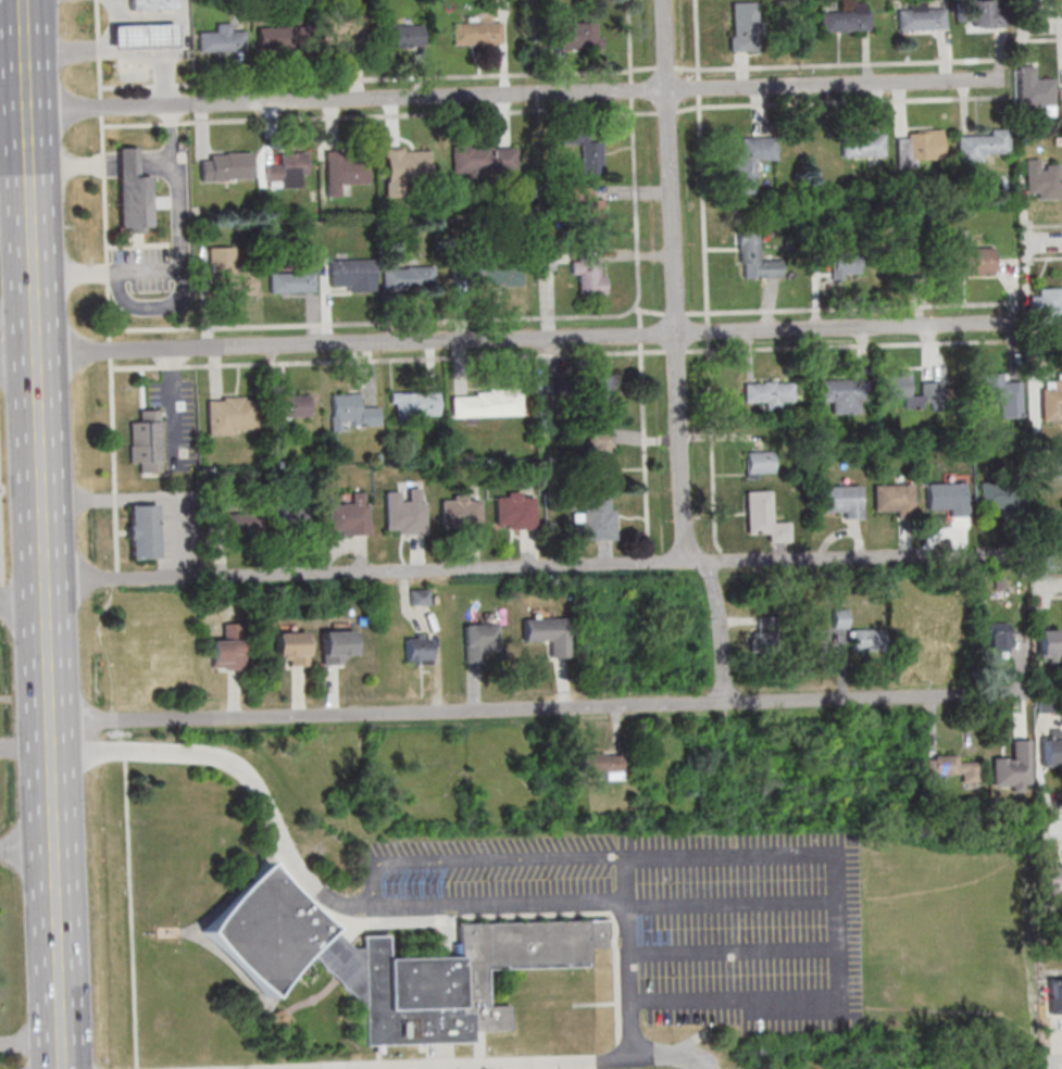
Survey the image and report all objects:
building: (150, 4)
road: (1040, 7)
road: (116, 9)
building: (978, 12)
building: (921, 16)
road: (148, 17)
building: (846, 18)
road: (116, 22)
road: (1039, 24)
building: (342, 26)
building: (745, 26)
building: (476, 33)
building: (401, 35)
building: (576, 35)
building: (141, 36)
road: (180, 36)
road: (116, 37)
building: (273, 38)
road: (696, 38)
building: (221, 39)
road: (1040, 39)
road: (628, 40)
road: (665, 45)
road: (98, 48)
road: (117, 51)
road: (120, 53)
road: (25, 55)
road: (836, 63)
road: (664, 67)
road: (377, 77)
road: (698, 86)
road: (632, 89)
building: (1035, 89)
road: (513, 95)
road: (842, 101)
road: (633, 105)
road: (13, 112)
road: (667, 112)
road: (641, 113)
road: (171, 123)
road: (133, 124)
road: (28, 138)
building: (863, 144)
building: (982, 144)
building: (919, 147)
building: (591, 153)
building: (484, 159)
road: (155, 162)
building: (751, 162)
road: (73, 163)
road: (127, 163)
building: (225, 166)
building: (346, 167)
building: (405, 167)
building: (287, 171)
building: (1041, 180)
building: (133, 193)
road: (703, 207)
building: (590, 212)
road: (33, 219)
road: (1044, 226)
road: (105, 227)
road: (1042, 242)
road: (637, 248)
building: (754, 257)
road: (1042, 257)
road: (180, 259)
building: (973, 260)
building: (546, 262)
building: (846, 264)
building: (487, 271)
building: (228, 273)
building: (588, 273)
building: (352, 274)
building: (408, 277)
building: (291, 282)
road: (36, 298)
building: (1046, 307)
road: (18, 323)
road: (675, 326)
road: (37, 340)
road: (524, 340)
road: (18, 360)
building: (896, 387)
building: (997, 388)
building: (600, 389)
building: (770, 393)
building: (842, 394)
building: (1051, 400)
building: (414, 403)
building: (487, 403)
building: (291, 407)
building: (351, 412)
building: (232, 415)
road: (40, 430)
building: (146, 441)
road: (1046, 444)
road: (113, 454)
building: (601, 457)
road: (1049, 463)
building: (760, 464)
road: (1048, 475)
building: (998, 496)
road: (149, 498)
building: (946, 498)
building: (892, 500)
building: (839, 501)
building: (514, 511)
building: (1061, 511)
building: (404, 512)
building: (460, 513)
building: (349, 515)
building: (292, 516)
building: (764, 517)
building: (236, 519)
building: (595, 520)
building: (142, 531)
road: (45, 541)
road: (534, 567)
road: (1048, 584)
road: (46, 593)
road: (1049, 595)
building: (418, 596)
road: (23, 605)
building: (840, 618)
road: (721, 632)
building: (548, 633)
building: (998, 636)
building: (866, 641)
building: (478, 642)
building: (764, 642)
building: (1048, 644)
building: (336, 645)
building: (291, 646)
building: (228, 647)
building: (417, 650)
road: (49, 664)
road: (536, 708)
road: (51, 733)
road: (25, 744)
building: (1051, 747)
road: (51, 751)
building: (603, 764)
building: (1013, 767)
building: (952, 768)
road: (1051, 795)
road: (53, 803)
road: (1052, 815)
road: (1052, 835)
road: (27, 850)
road: (478, 858)
building: (1051, 879)
road: (838, 897)
road: (380, 905)
road: (130, 914)
road: (59, 958)
building: (390, 961)
building: (1054, 997)
road: (1053, 1043)
road: (30, 1044)
road: (551, 1064)
road: (1054, 1065)
road: (703, 1068)

